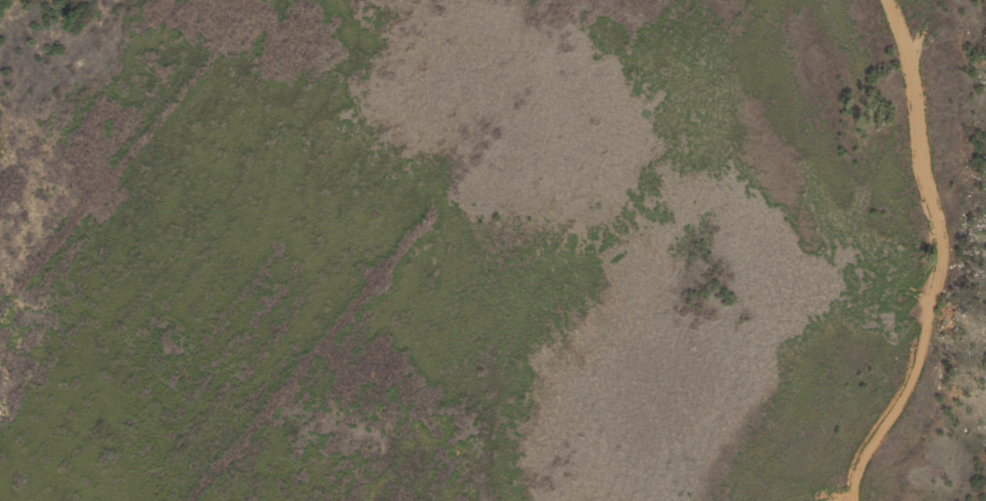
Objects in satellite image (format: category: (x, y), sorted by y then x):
road: (956, 257)

